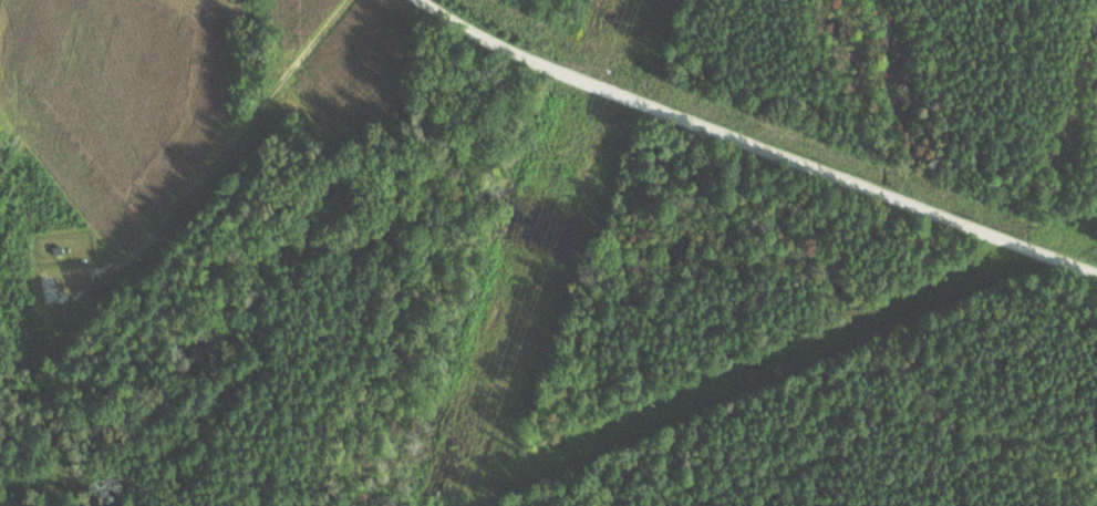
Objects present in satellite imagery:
power tower: (618, 22)
road: (754, 146)
power tower: (489, 384)

